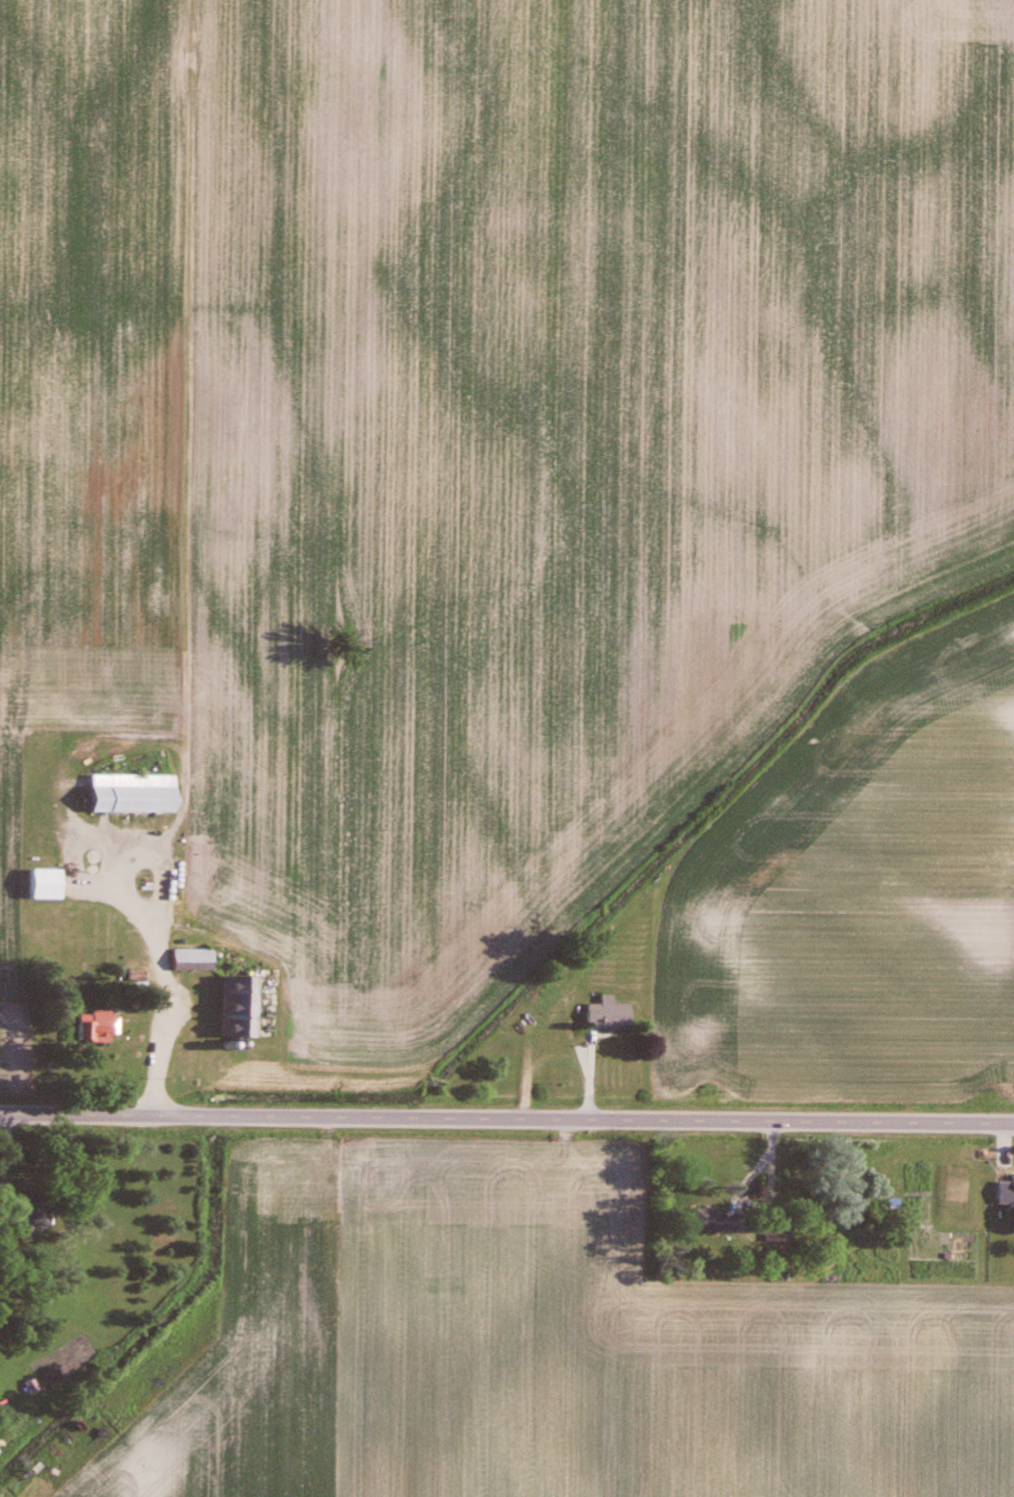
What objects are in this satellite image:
building: (129, 794)
building: (40, 884)
building: (190, 960)
building: (236, 1006)
building: (607, 1016)
building: (98, 1026)
road: (506, 1125)
building: (1005, 1193)
building: (29, 1215)
building: (713, 1221)
building: (777, 1234)
building: (967, 1264)
building: (878, 1277)

